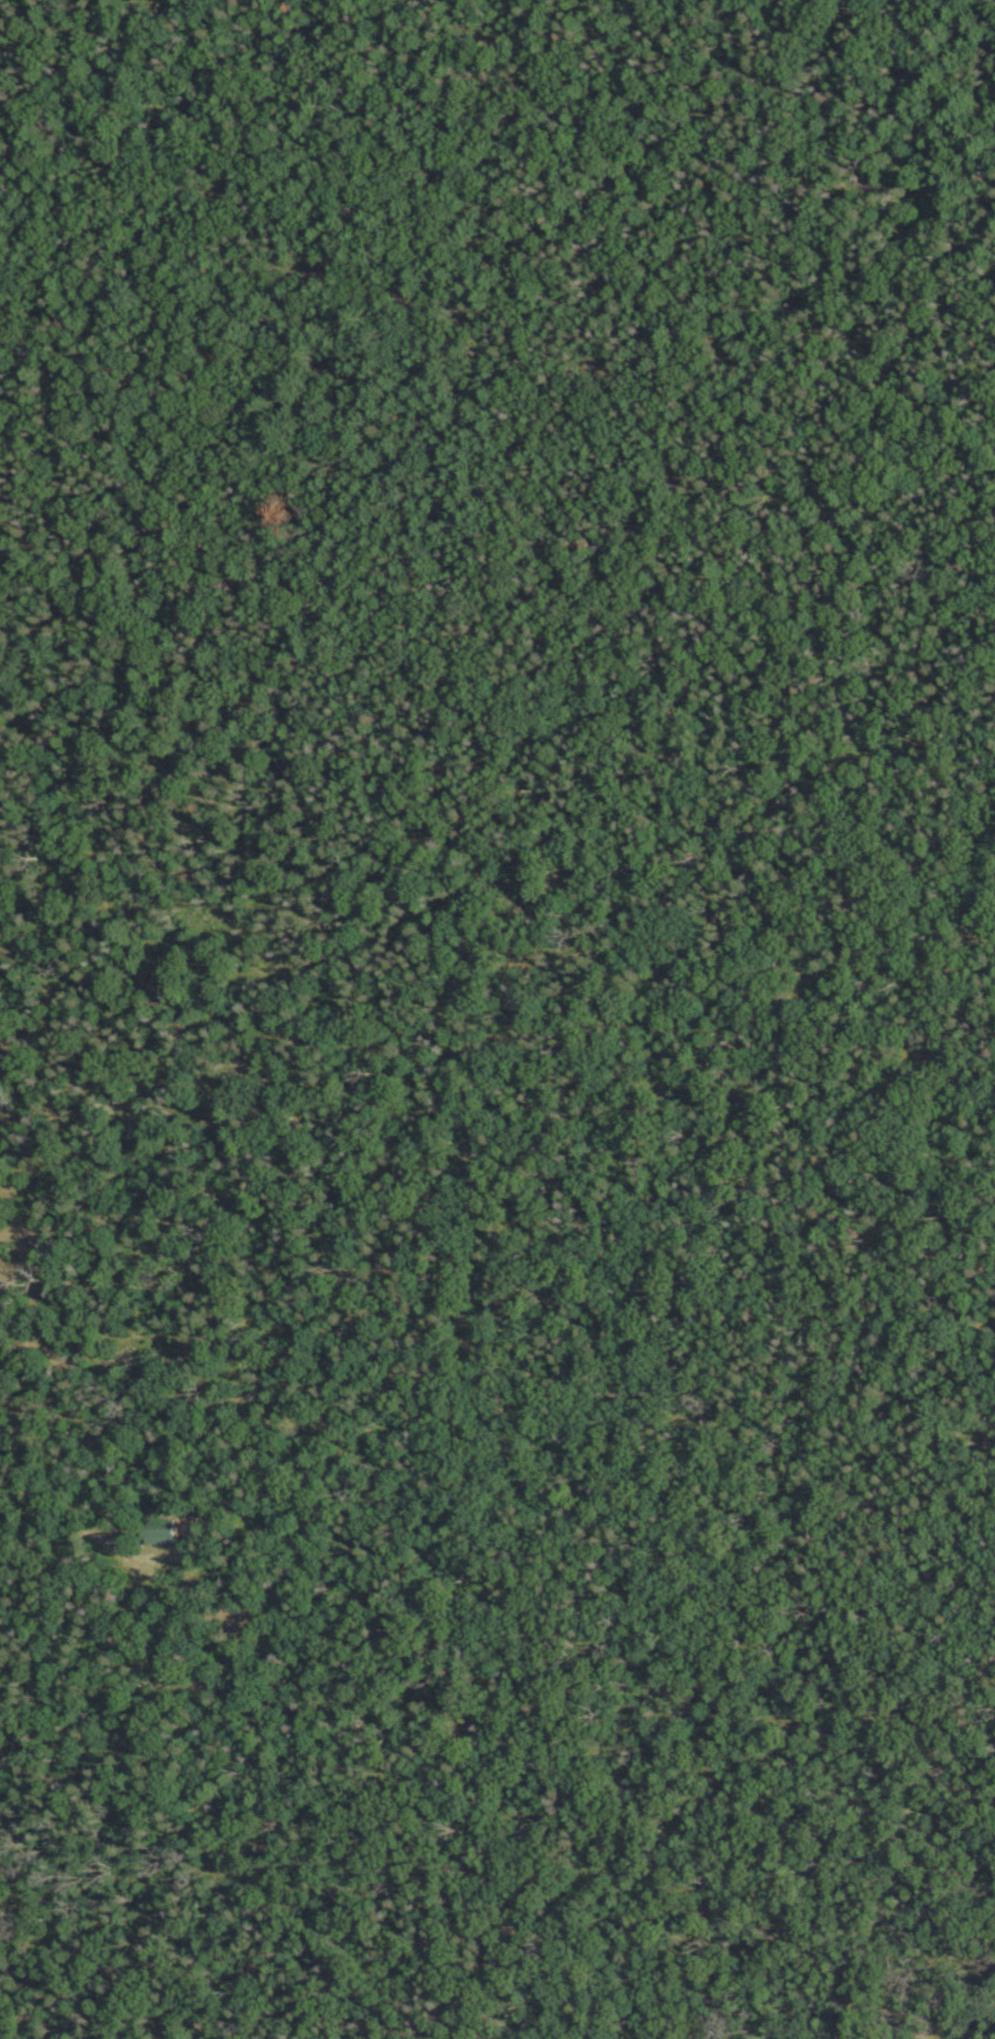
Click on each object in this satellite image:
road: (8, 521)

